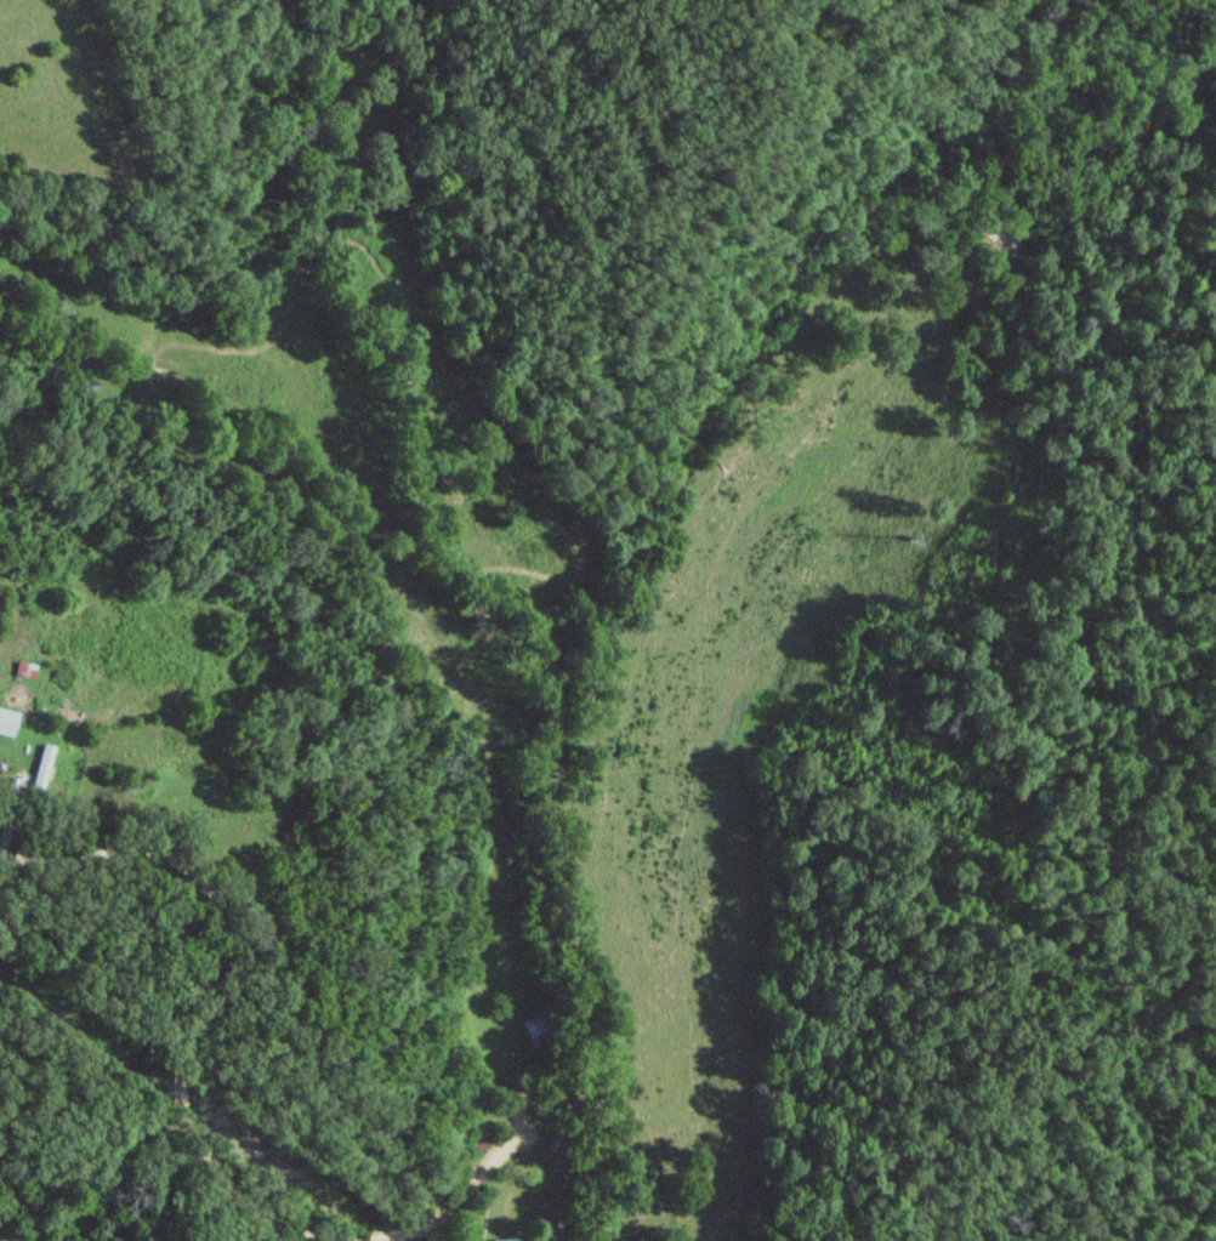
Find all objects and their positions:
building: (23, 668)
building: (5, 722)
building: (42, 767)
road: (183, 1100)
building: (511, 1240)

